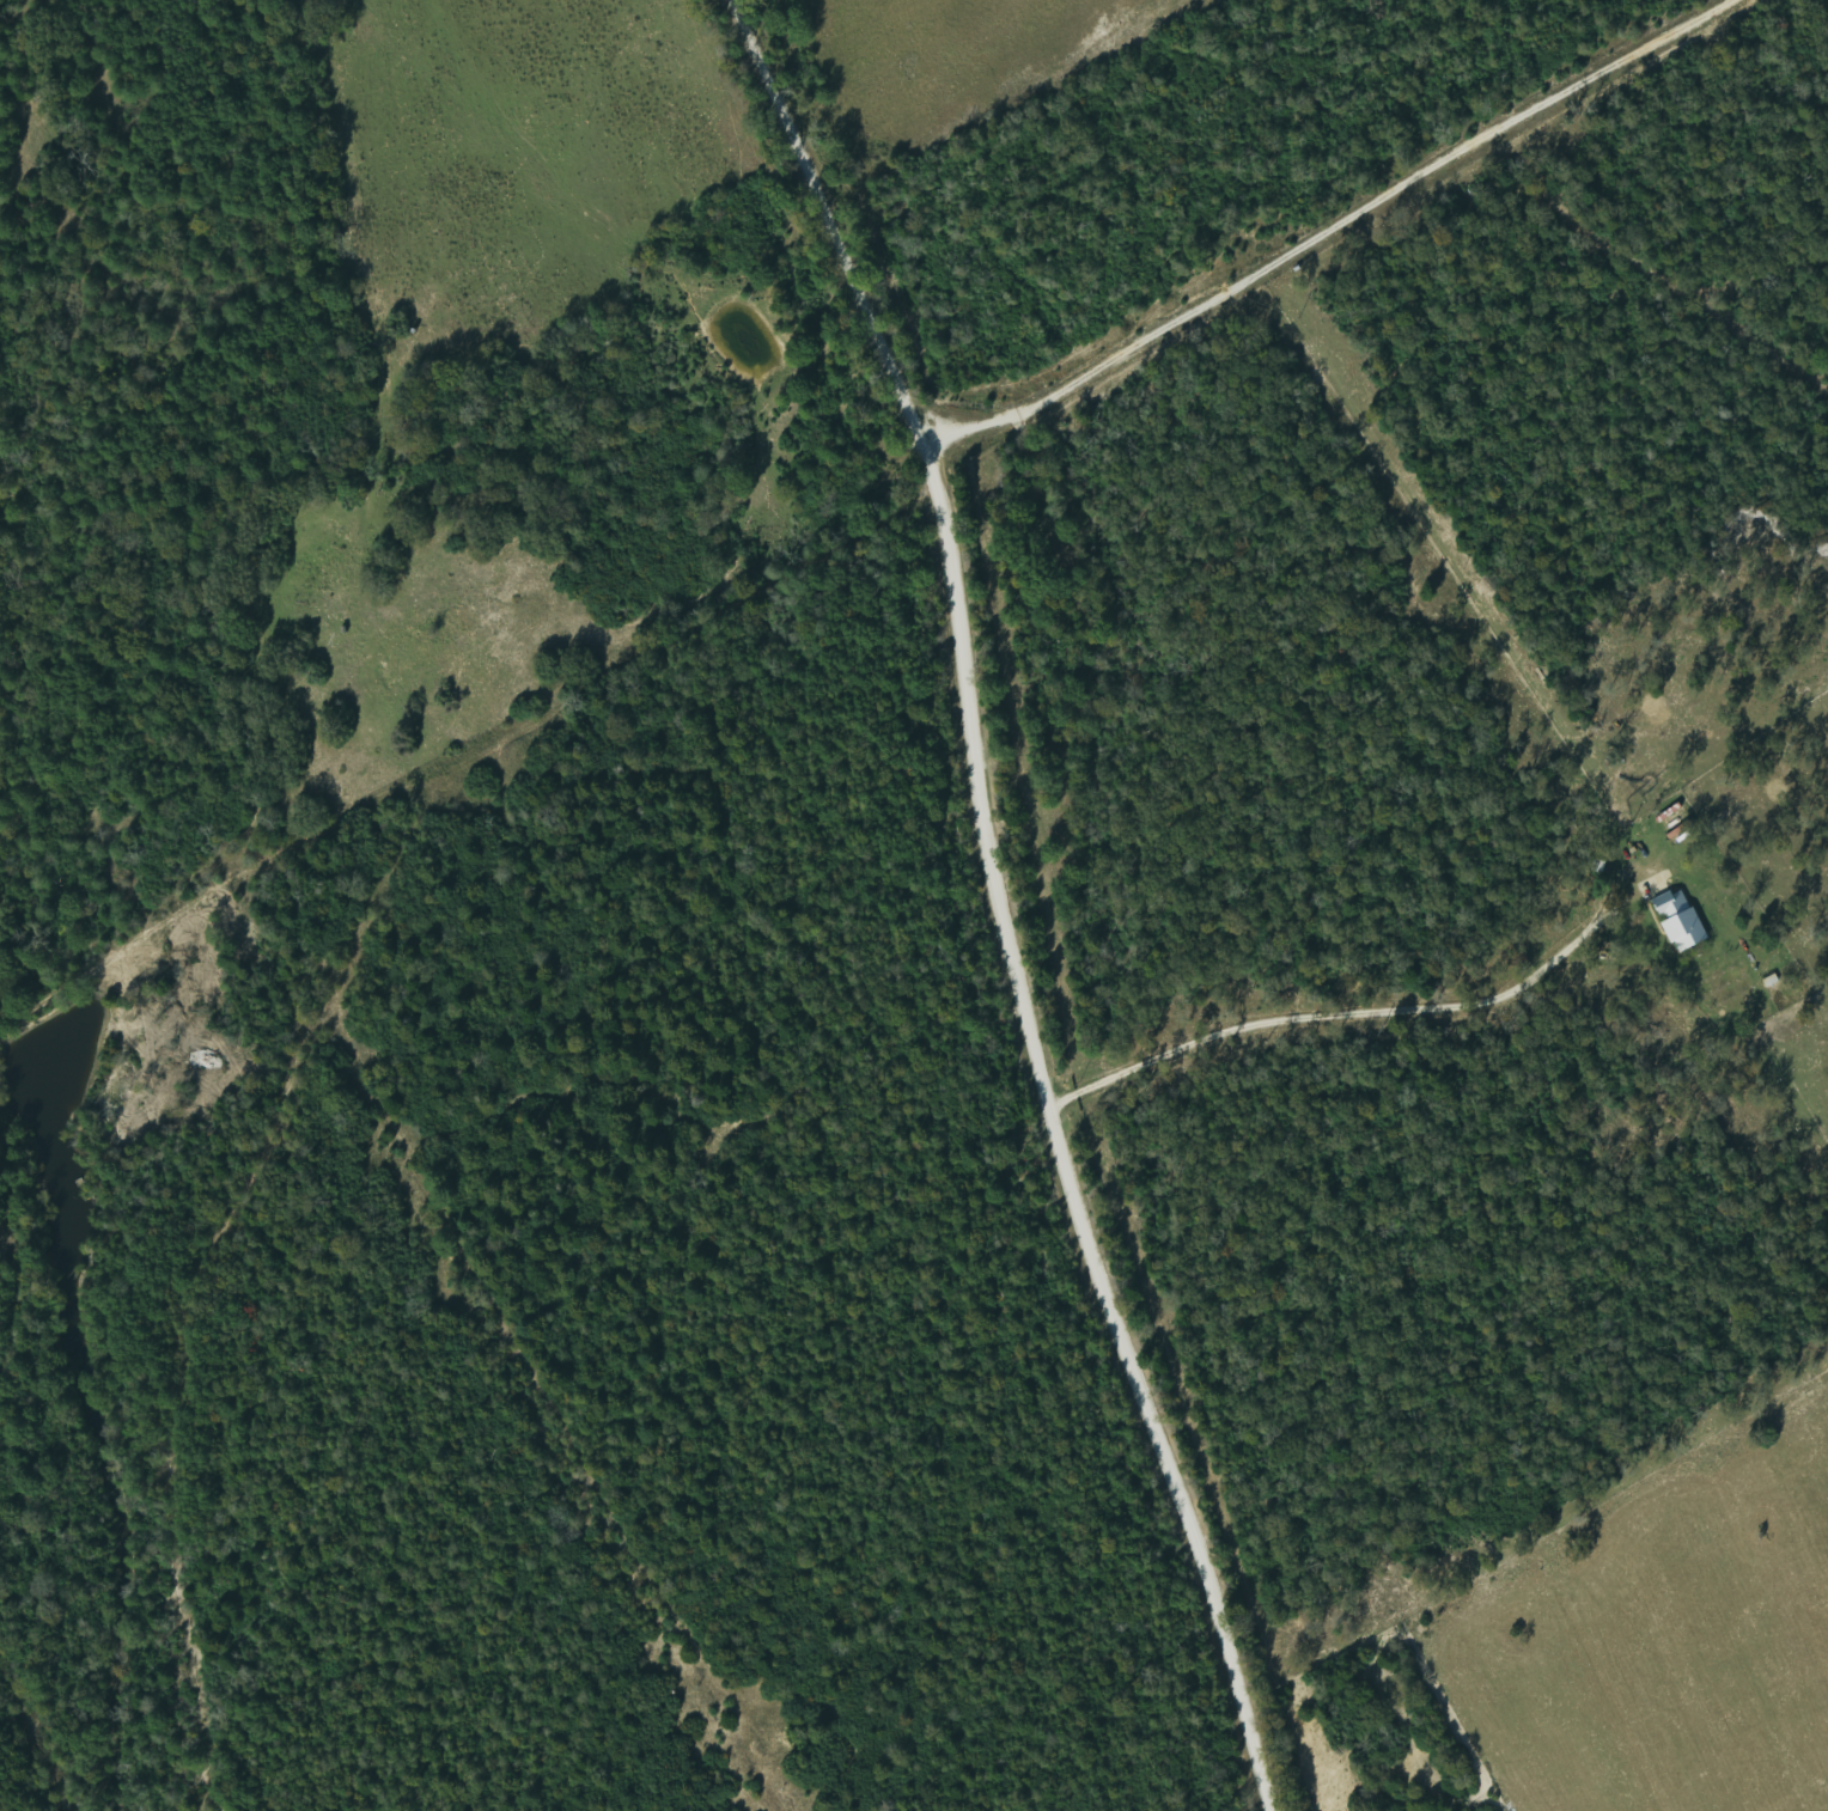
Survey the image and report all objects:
road: (1330, 231)
road: (999, 901)
building: (1684, 922)

